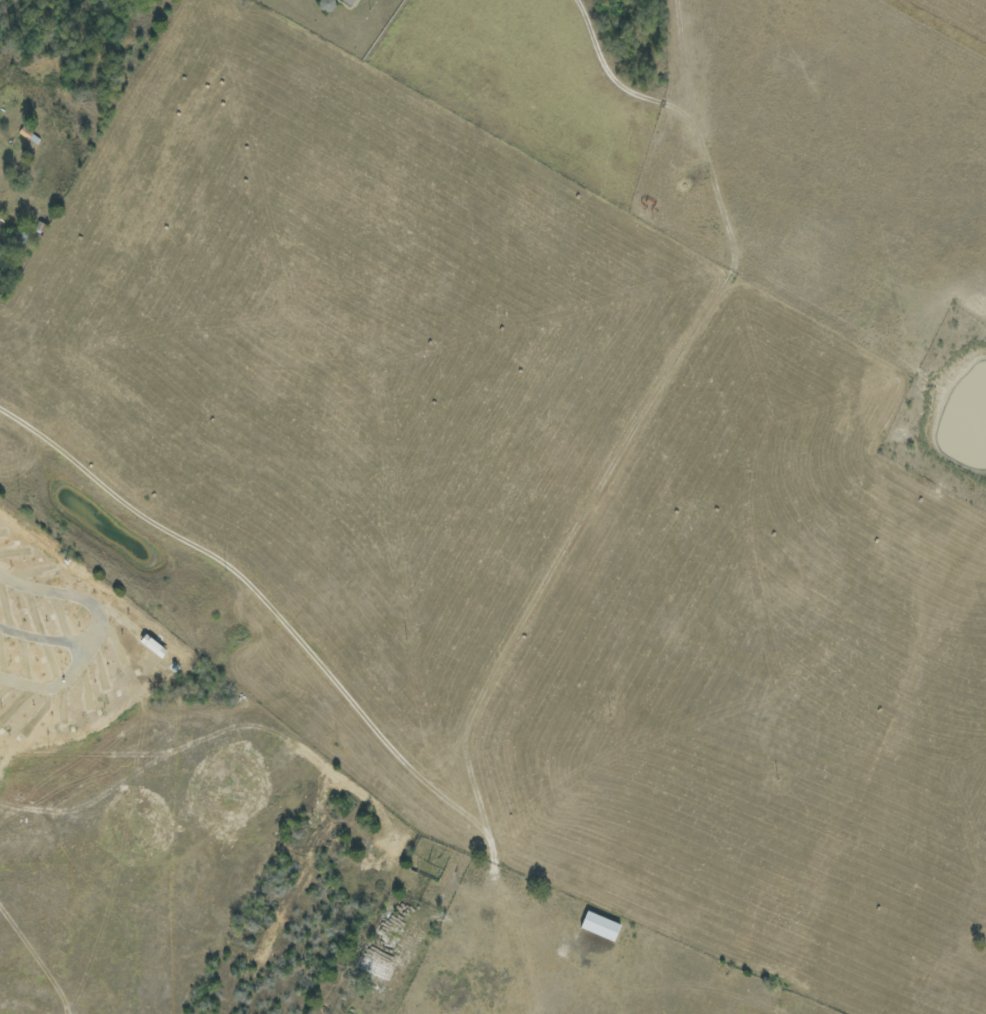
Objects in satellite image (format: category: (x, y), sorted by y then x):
building: (351, 1)
building: (1, 252)
building: (601, 926)

